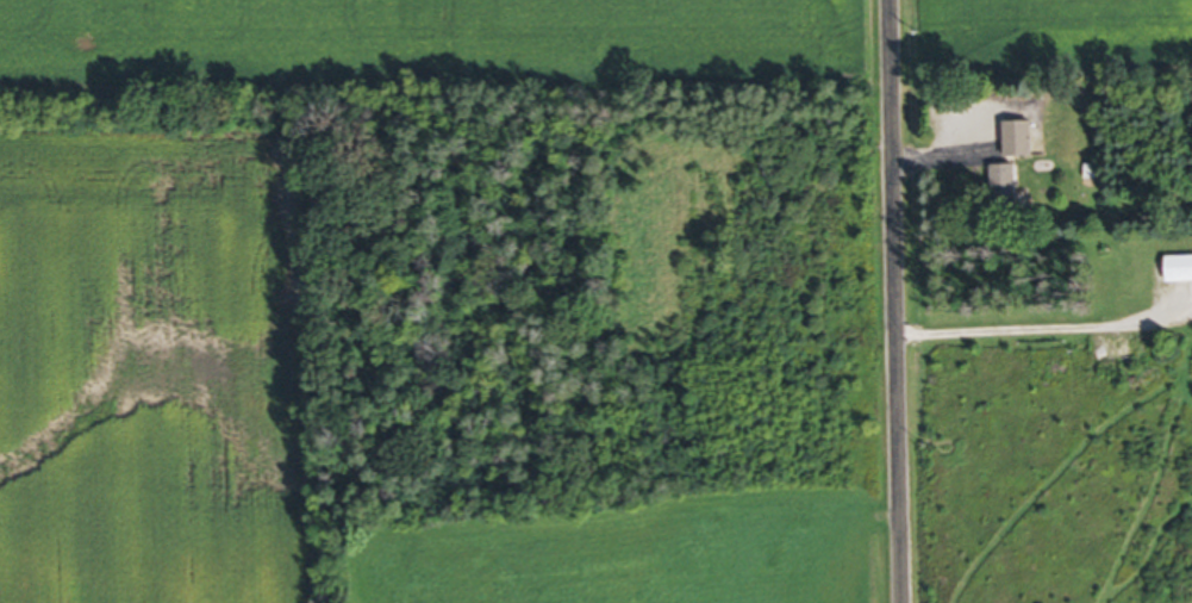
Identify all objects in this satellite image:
building: (1021, 141)
building: (1006, 189)
building: (1179, 273)
road: (885, 301)
road: (1029, 329)

